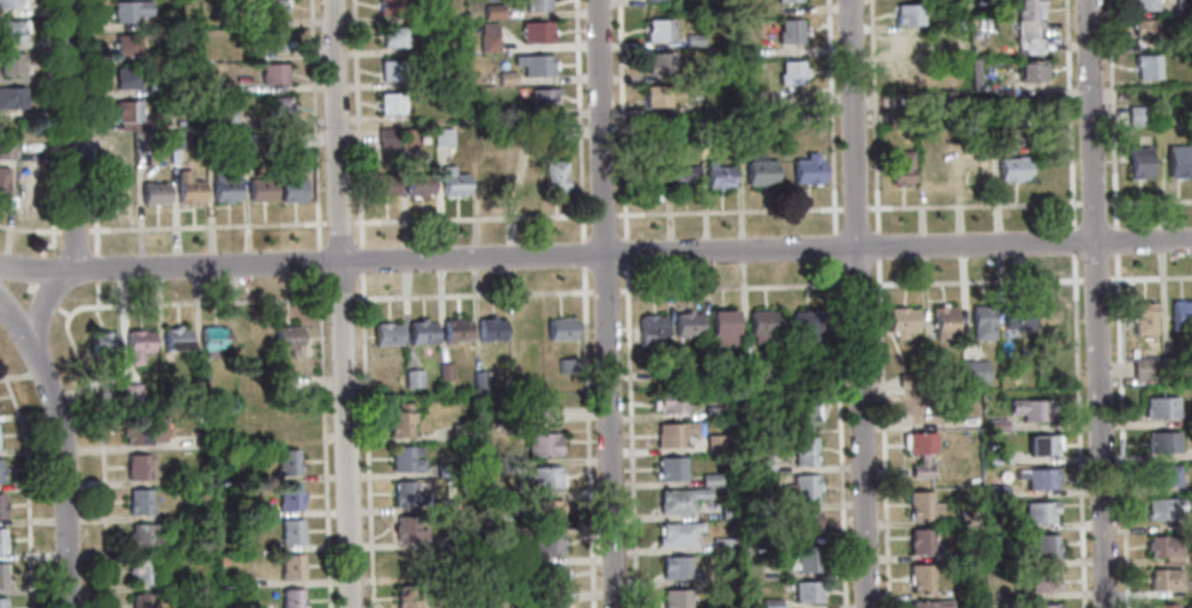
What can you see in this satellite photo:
building: (656, 0)
building: (786, 0)
building: (8, 4)
building: (537, 5)
building: (1142, 5)
building: (391, 6)
building: (1181, 7)
building: (271, 8)
building: (129, 10)
building: (492, 10)
building: (907, 14)
building: (951, 23)
building: (1027, 25)
building: (488, 29)
building: (659, 30)
building: (788, 30)
building: (1145, 30)
building: (12, 31)
building: (536, 31)
building: (394, 37)
building: (692, 39)
building: (271, 41)
building: (489, 42)
building: (910, 42)
building: (1182, 42)
building: (126, 44)
building: (743, 51)
building: (157, 55)
building: (659, 62)
building: (12, 65)
building: (534, 65)
building: (1145, 66)
building: (392, 69)
building: (1029, 69)
building: (789, 72)
building: (912, 72)
building: (274, 73)
building: (441, 73)
building: (692, 73)
building: (973, 73)
building: (506, 77)
building: (126, 79)
building: (742, 83)
building: (155, 86)
building: (655, 96)
building: (694, 96)
building: (958, 97)
building: (544, 98)
building: (12, 99)
building: (391, 103)
building: (277, 107)
road: (577, 107)
building: (127, 110)
building: (513, 111)
building: (1157, 113)
road: (1111, 114)
building: (1134, 114)
road: (1067, 115)
road: (829, 116)
road: (873, 116)
building: (225, 117)
building: (895, 117)
road: (619, 120)
building: (800, 120)
building: (127, 126)
road: (91, 127)
building: (739, 127)
building: (556, 132)
building: (386, 136)
building: (405, 136)
building: (441, 136)
building: (174, 139)
building: (286, 140)
building: (140, 141)
building: (249, 141)
building: (7, 150)
building: (210, 150)
building: (1138, 160)
building: (1175, 160)
building: (900, 166)
building: (1010, 168)
building: (806, 169)
building: (758, 170)
building: (553, 175)
building: (718, 175)
building: (490, 176)
building: (682, 176)
road: (72, 177)
building: (527, 177)
building: (453, 181)
building: (381, 183)
building: (418, 183)
building: (2, 184)
building: (119, 187)
building: (188, 188)
building: (225, 188)
building: (260, 189)
building: (294, 189)
building: (32, 190)
building: (155, 193)
road: (1148, 201)
road: (1091, 203)
road: (973, 205)
road: (854, 207)
road: (727, 211)
road: (601, 214)
road: (294, 221)
road: (1114, 236)
road: (1072, 242)
road: (47, 244)
road: (876, 247)
road: (833, 248)
road: (595, 255)
road: (1114, 261)
road: (625, 265)
road: (95, 267)
road: (36, 269)
road: (29, 286)
road: (1075, 291)
road: (96, 293)
road: (478, 294)
road: (43, 299)
road: (605, 303)
road: (857, 303)
road: (1095, 303)
road: (319, 304)
road: (340, 304)
road: (361, 304)
road: (61, 311)
building: (1180, 315)
building: (1143, 317)
building: (1048, 318)
building: (898, 320)
building: (942, 322)
building: (980, 322)
building: (686, 323)
building: (806, 323)
building: (1013, 323)
building: (761, 324)
building: (720, 327)
building: (559, 328)
building: (649, 328)
building: (455, 329)
building: (490, 329)
building: (419, 330)
building: (386, 333)
building: (253, 336)
building: (175, 339)
building: (211, 339)
building: (288, 339)
building: (102, 341)
building: (135, 345)
building: (567, 365)
building: (1168, 365)
building: (1142, 367)
building: (746, 369)
building: (710, 370)
building: (443, 371)
building: (972, 371)
building: (199, 372)
building: (412, 378)
building: (479, 379)
building: (907, 379)
building: (291, 383)
building: (105, 390)
building: (129, 393)
building: (670, 401)
building: (1160, 407)
building: (1030, 408)
road: (586, 411)
building: (713, 412)
building: (539, 414)
building: (801, 414)
building: (1190, 415)
building: (399, 424)
building: (996, 425)
building: (289, 427)
building: (143, 428)
building: (460, 431)
building: (676, 433)
road: (881, 433)
road: (839, 434)
building: (916, 442)
building: (1160, 442)
building: (541, 443)
building: (714, 443)
road: (1120, 443)
building: (1041, 444)
road: (62, 448)
road: (629, 449)
building: (803, 450)
building: (997, 457)
building: (404, 460)
building: (285, 462)
building: (760, 462)
building: (512, 464)
building: (137, 467)
building: (919, 467)
building: (670, 468)
road: (1079, 468)
building: (1, 470)
building: (444, 470)
building: (1160, 475)
building: (1036, 476)
building: (540, 478)
building: (709, 479)
road: (28, 485)
building: (805, 487)
building: (996, 491)
building: (407, 493)
building: (289, 495)
building: (679, 499)
building: (138, 501)
building: (444, 505)
building: (920, 505)
building: (1162, 507)
building: (0, 510)
building: (545, 510)
building: (255, 511)
building: (728, 511)
building: (1037, 511)
building: (966, 516)
building: (1191, 522)
building: (803, 523)
building: (1000, 523)
building: (405, 527)
building: (764, 530)
building: (290, 531)
building: (506, 533)
building: (677, 533)
building: (144, 536)
building: (1, 539)
building: (919, 540)
building: (546, 542)
building: (721, 543)
building: (1043, 545)
building: (201, 547)
building: (1163, 547)
building: (966, 553)
building: (804, 559)
building: (220, 560)
building: (412, 563)
building: (290, 566)
building: (676, 566)
building: (496, 569)
building: (140, 571)
building: (1, 574)
building: (546, 576)
building: (919, 577)
building: (1166, 578)
building: (1042, 579)
building: (240, 580)
building: (805, 590)
building: (958, 590)
building: (406, 596)
building: (290, 597)
building: (674, 597)
building: (139, 601)
building: (1, 602)
building: (549, 603)
building: (770, 603)
building: (928, 603)
building: (240, 606)
building: (731, 606)
building: (1041, 606)
building: (1162, 606)

